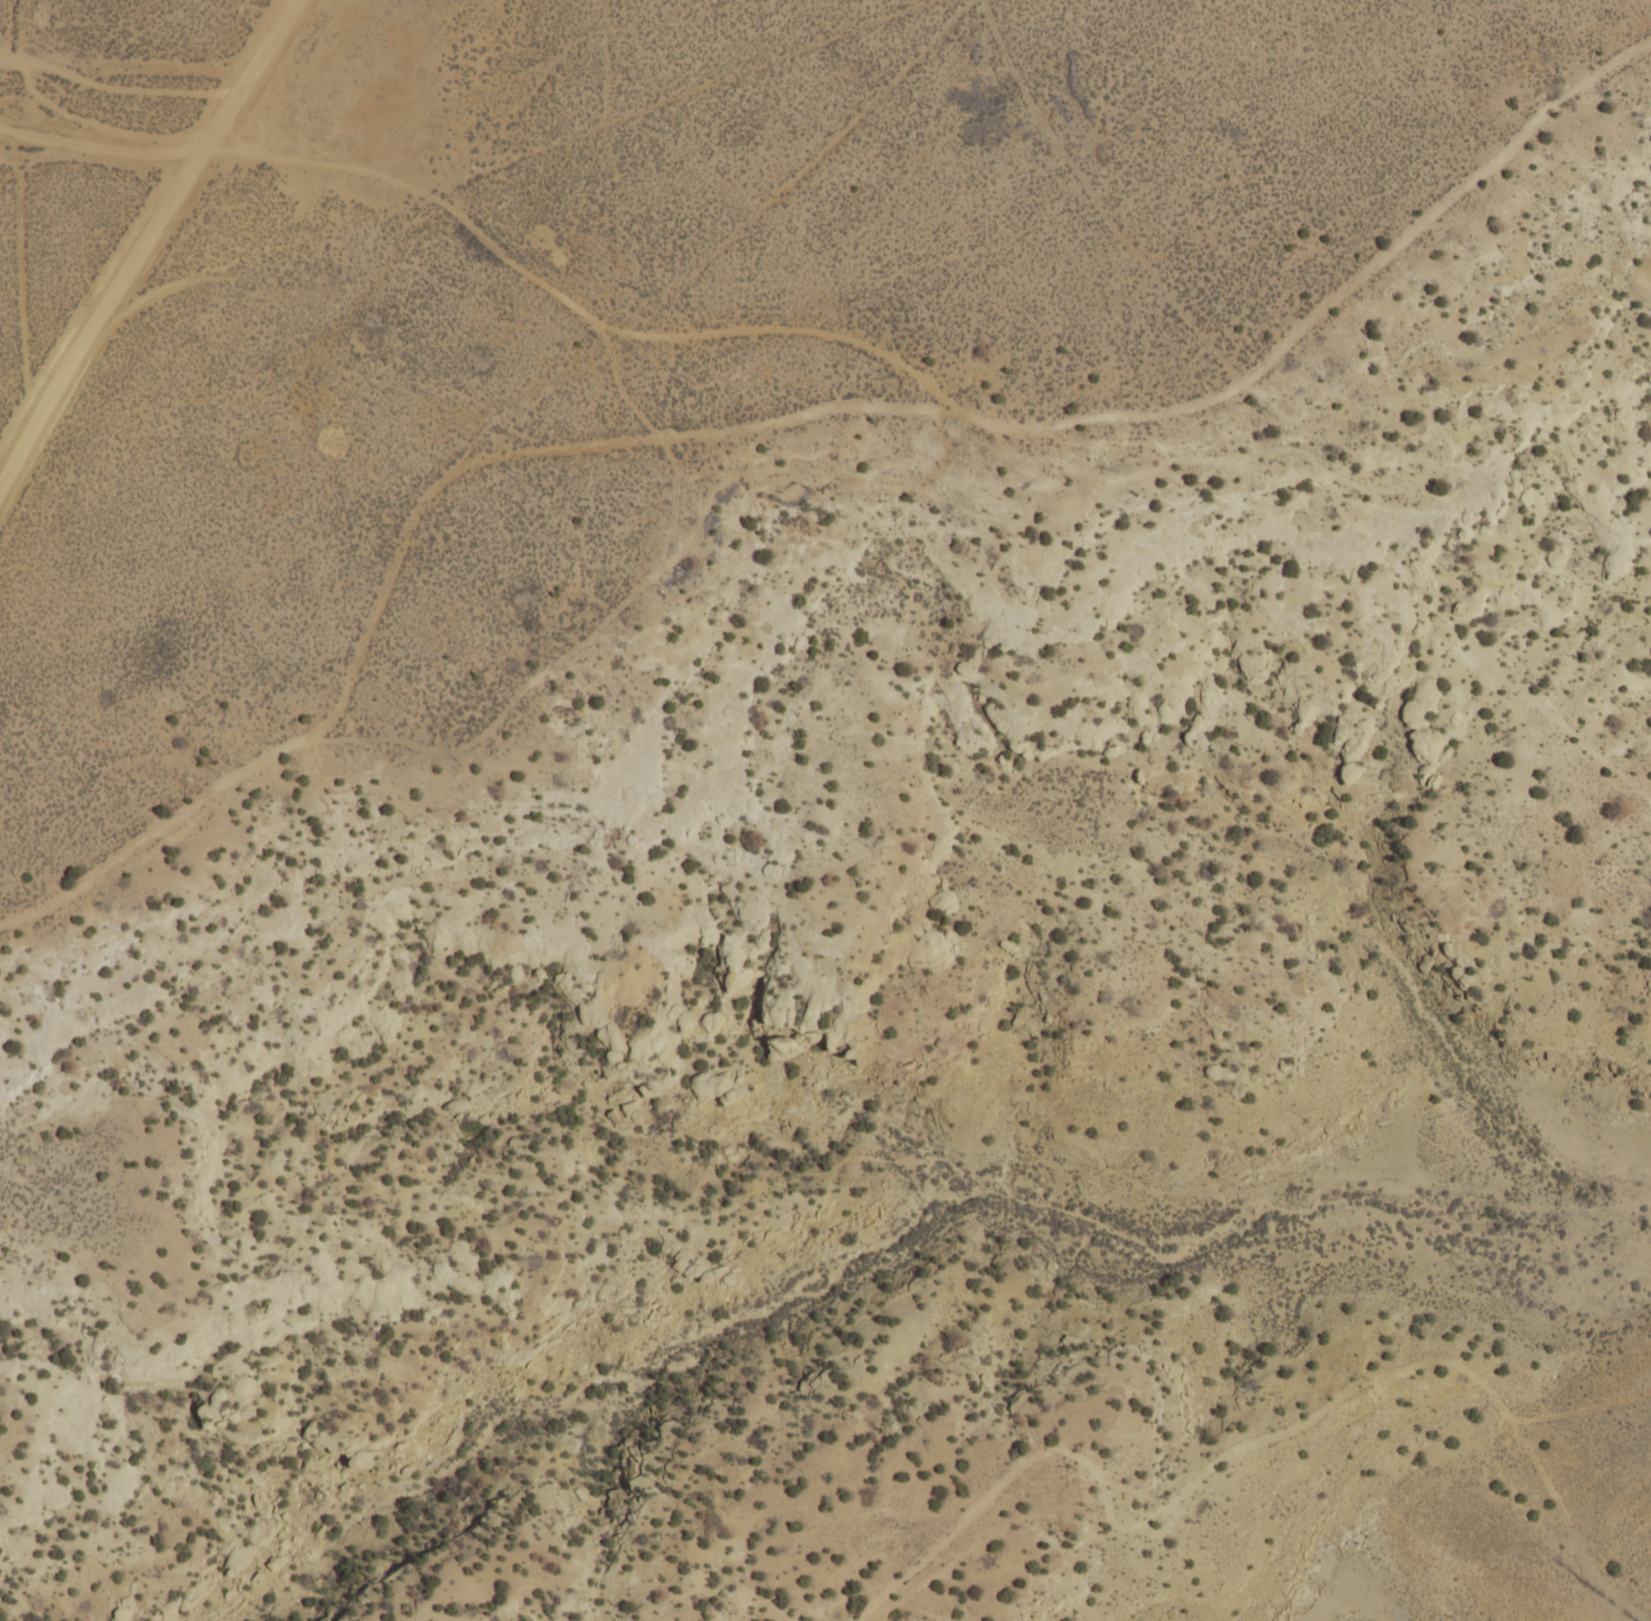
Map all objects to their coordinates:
road: (118, 88)
road: (103, 149)
road: (137, 251)
road: (1124, 406)
road: (297, 738)
road: (1276, 1590)

